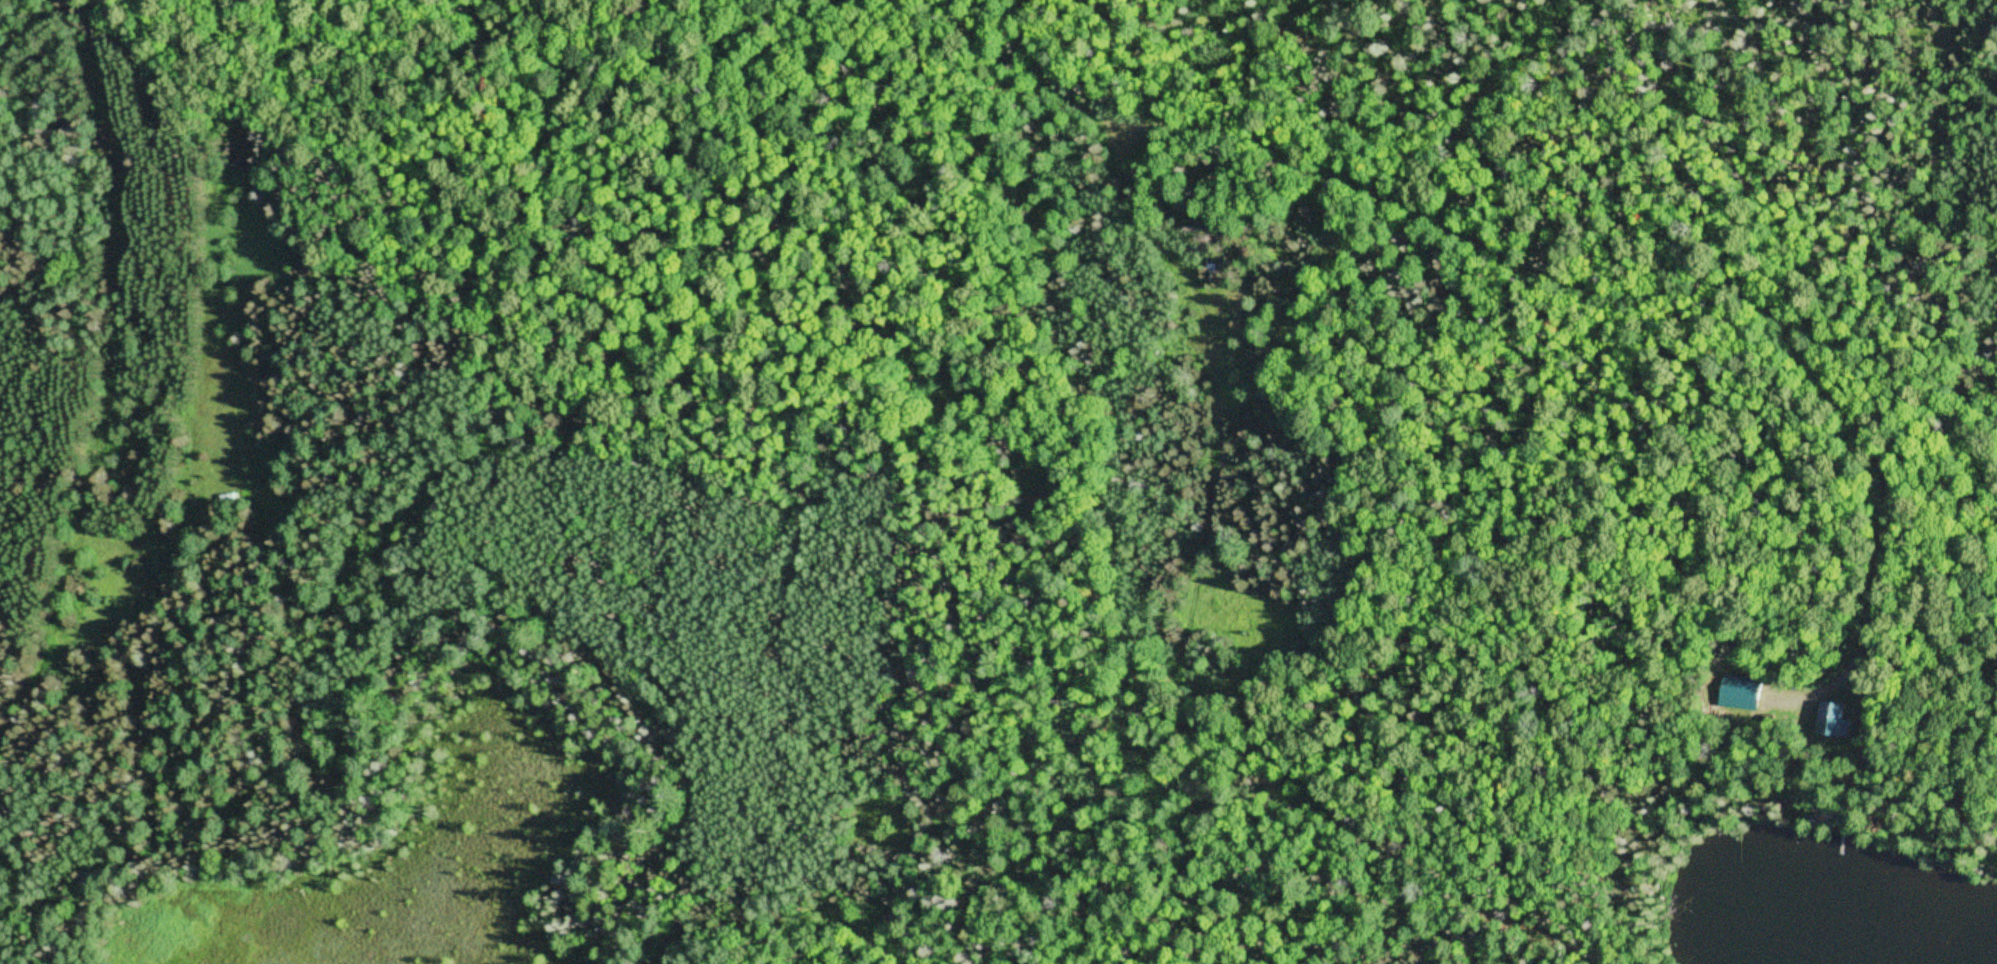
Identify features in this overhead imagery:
road: (129, 184)
road: (1421, 217)
road: (1938, 344)
building: (1831, 720)

